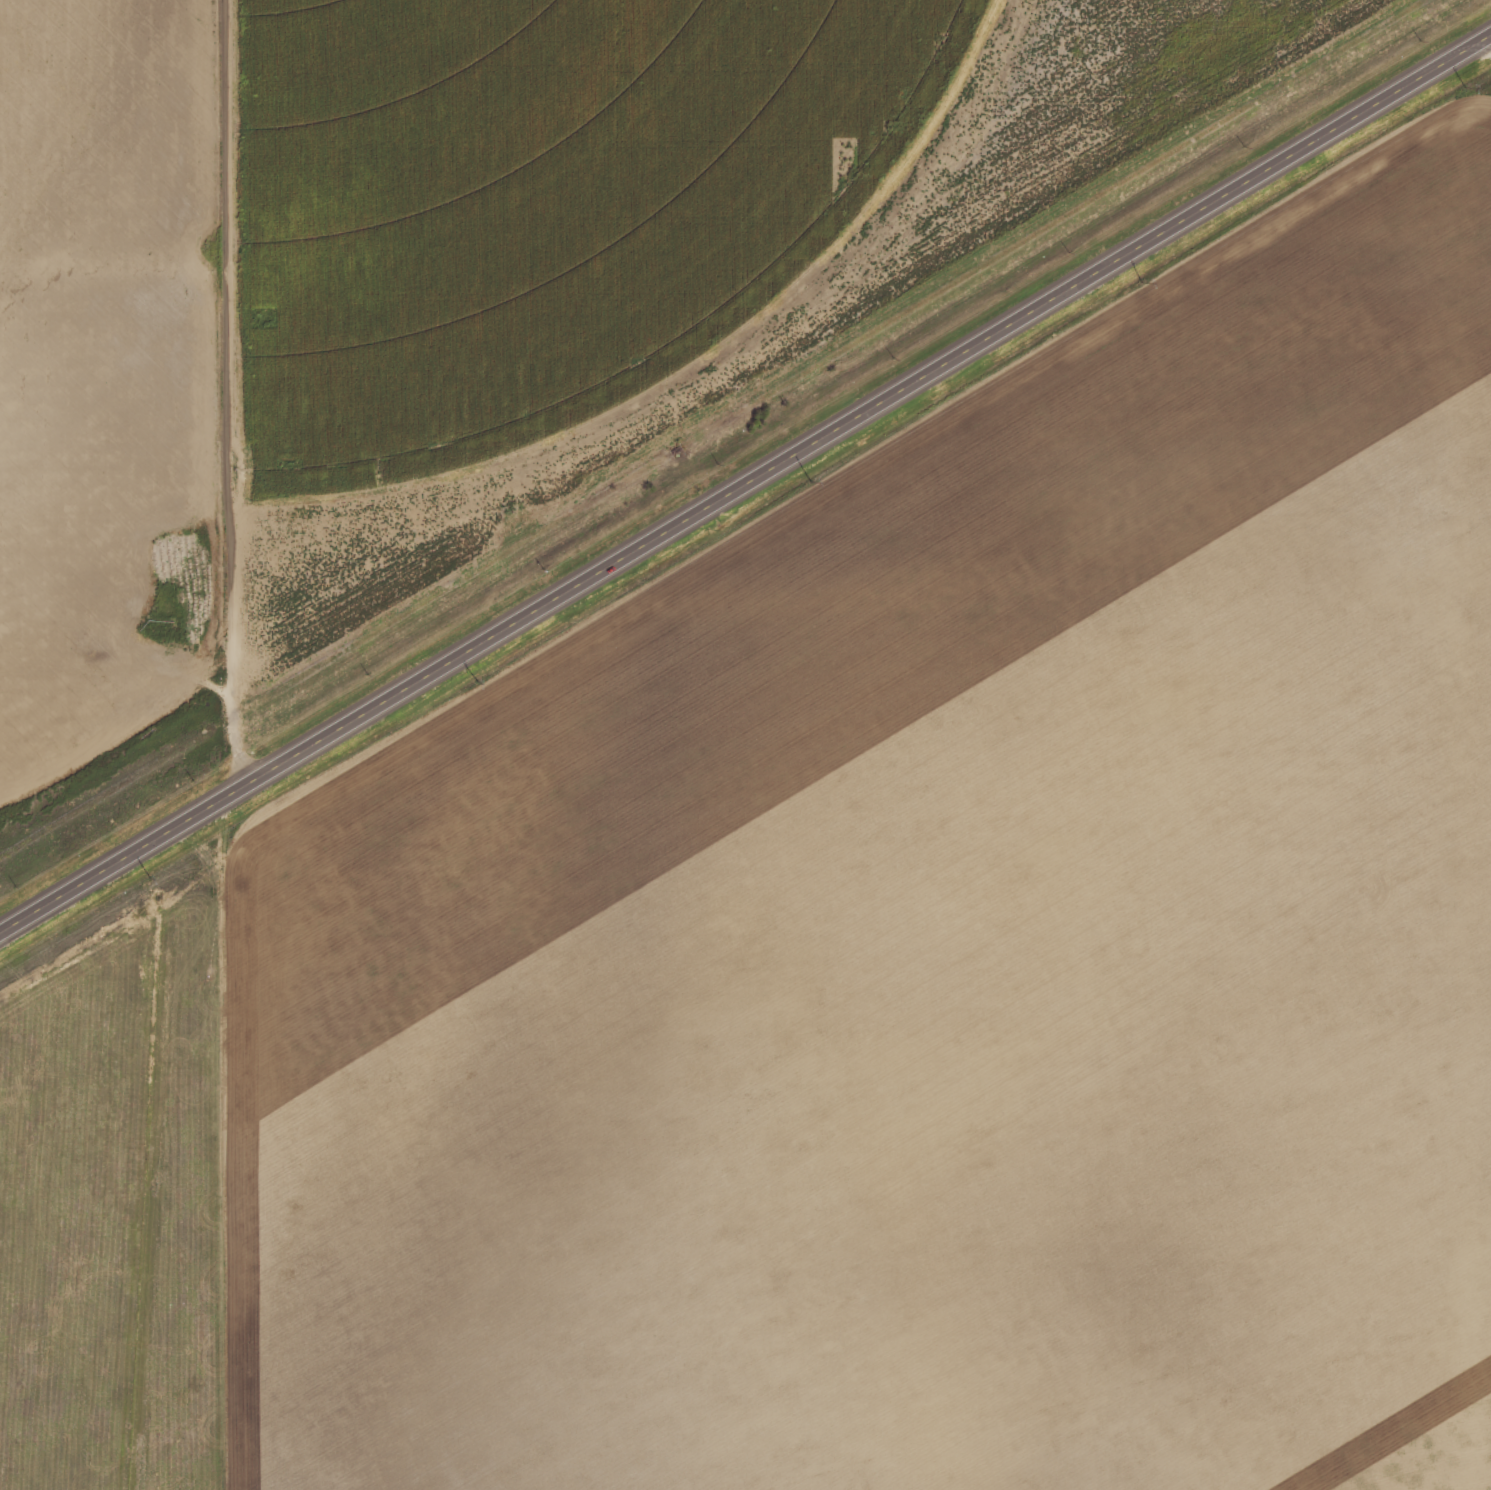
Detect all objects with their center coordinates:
power tower: (1459, 84)
power tower: (1140, 280)
power tower: (805, 481)
road: (745, 487)
power tower: (474, 679)
power tower: (147, 875)

